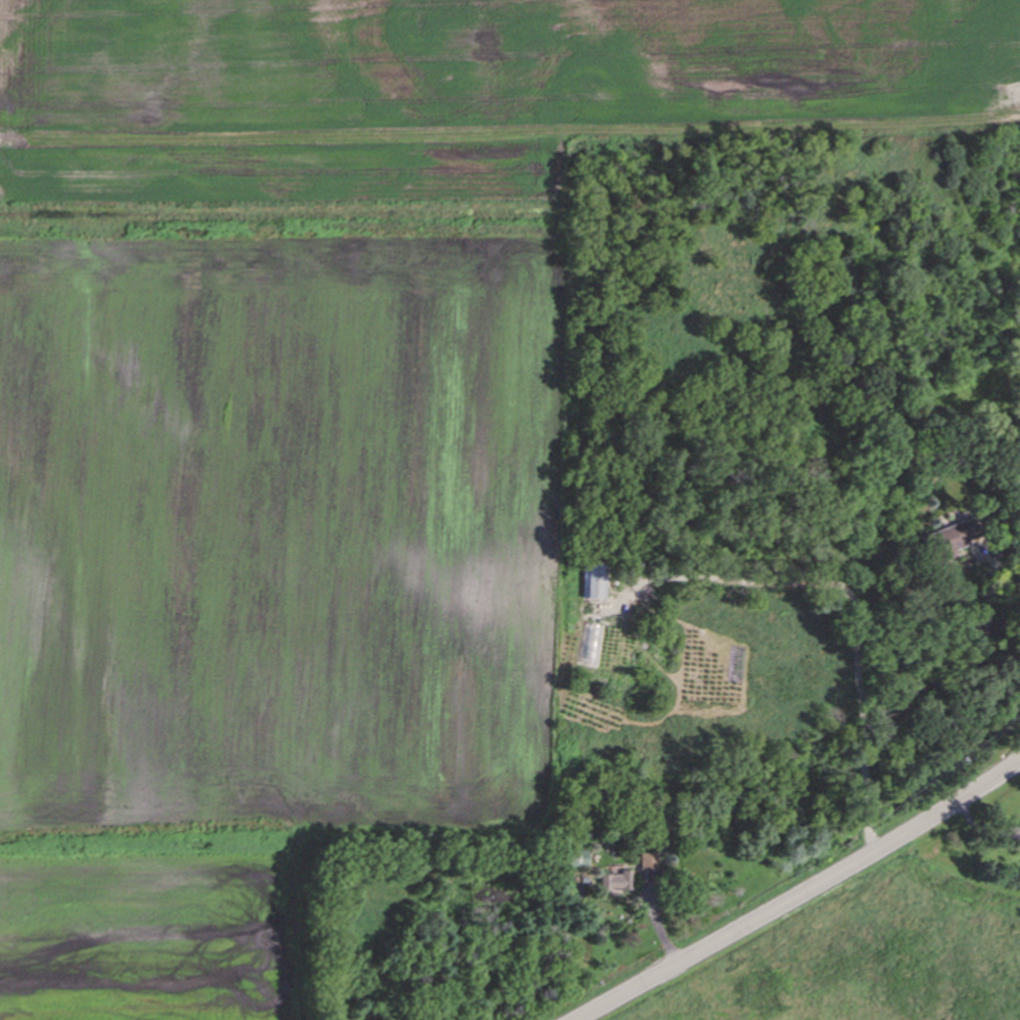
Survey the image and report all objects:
building: (952, 538)
building: (597, 582)
road: (849, 593)
building: (580, 860)
building: (649, 865)
building: (619, 882)
road: (799, 893)

